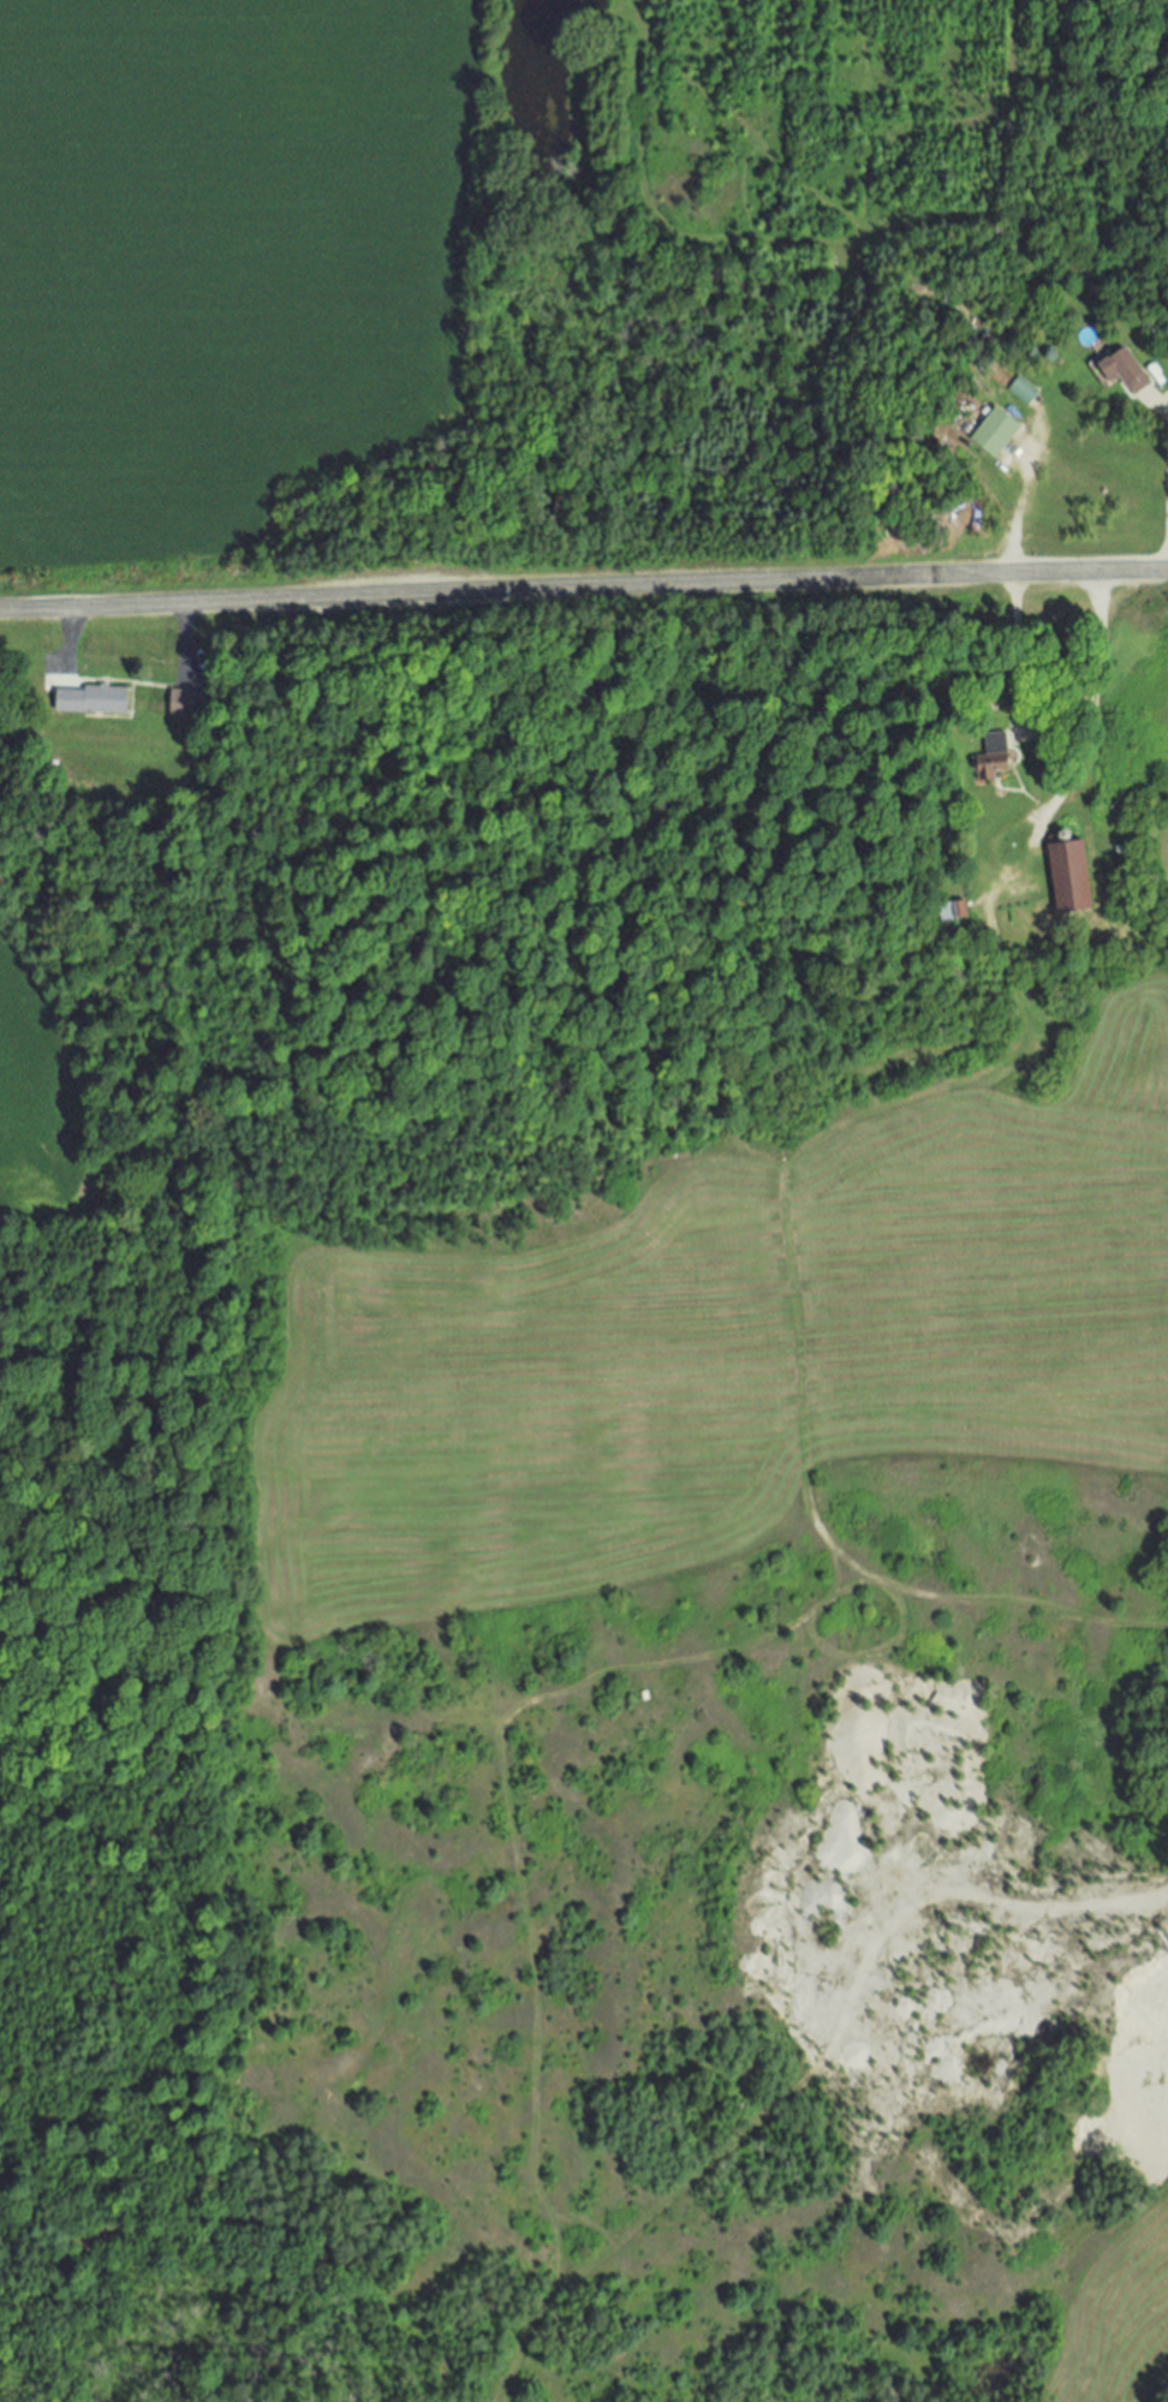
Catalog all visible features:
building: (1119, 374)
building: (1021, 393)
building: (993, 435)
road: (1167, 521)
road: (583, 588)
road: (70, 636)
road: (184, 636)
road: (1011, 697)
building: (90, 703)
building: (184, 707)
building: (990, 759)
building: (1068, 880)
building: (951, 913)
quarry: (929, 1860)
road: (1032, 1905)

